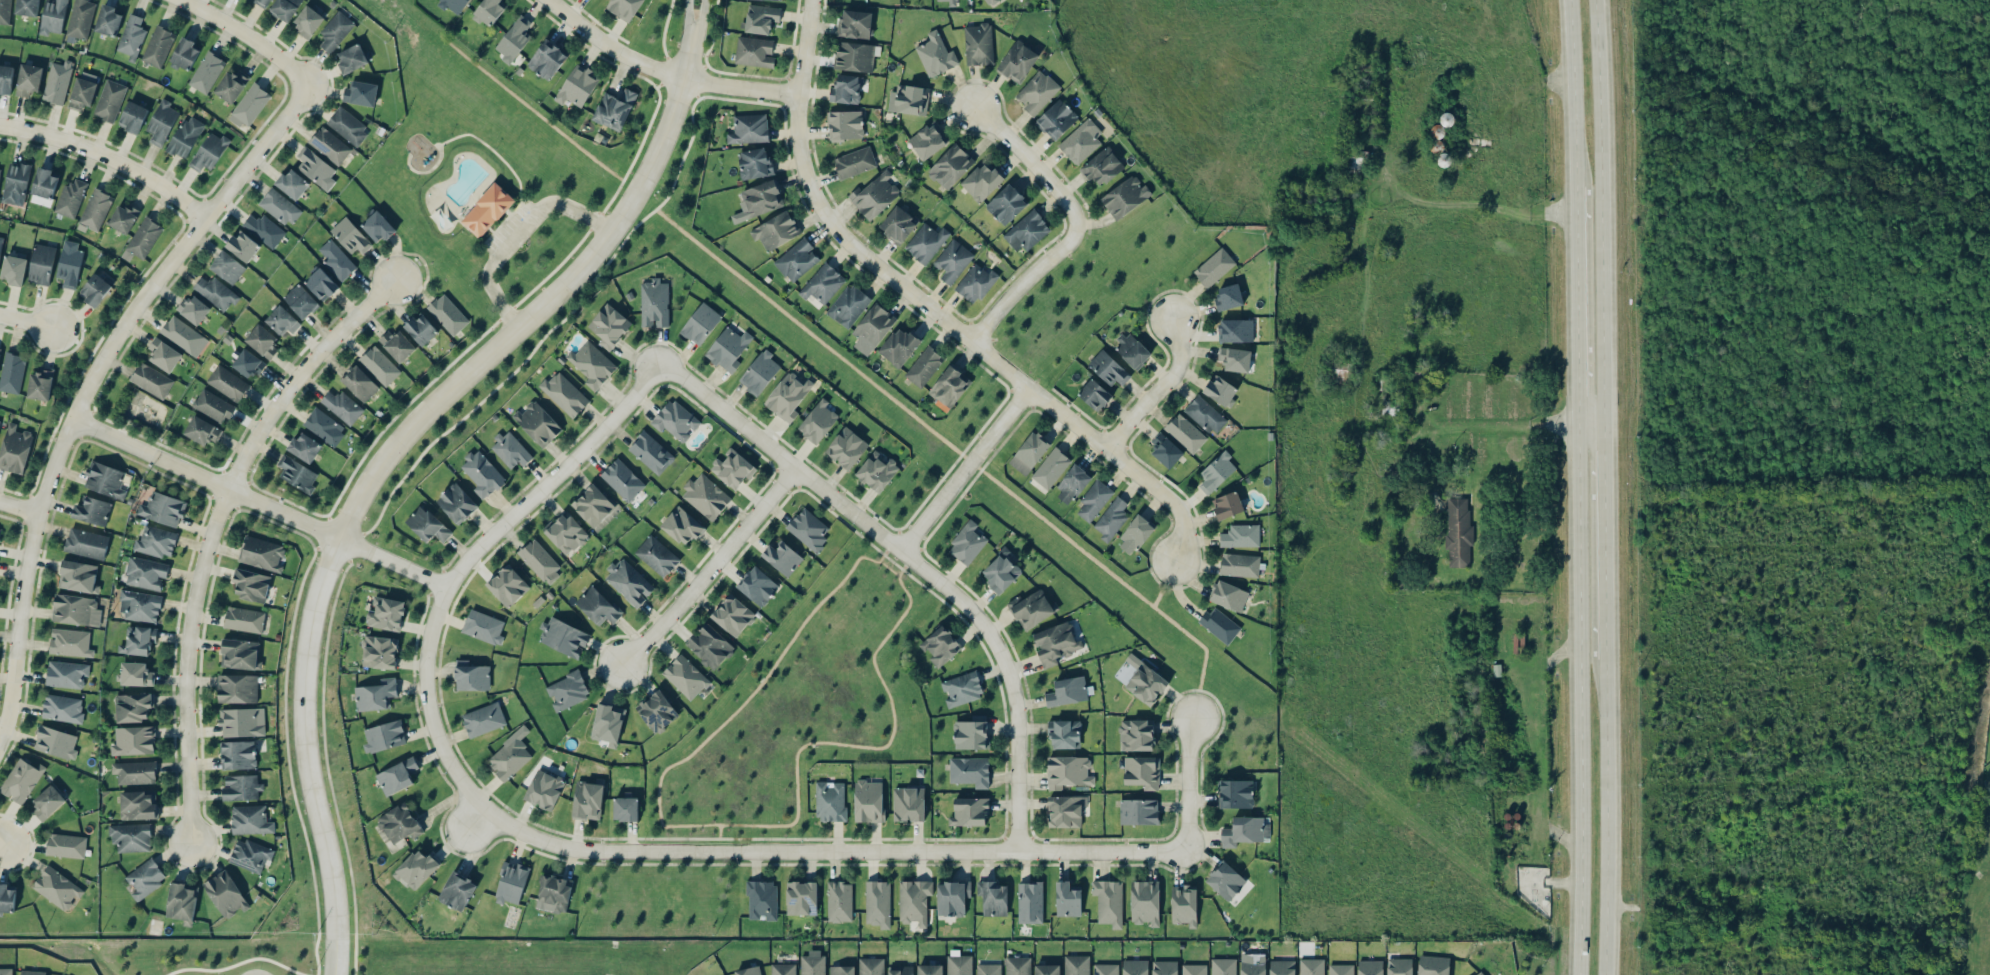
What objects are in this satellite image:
building: (781, 0)
building: (262, 2)
building: (951, 2)
building: (990, 2)
building: (454, 5)
building: (27, 7)
building: (285, 8)
building: (624, 8)
building: (489, 10)
building: (4, 11)
building: (53, 16)
building: (80, 18)
building: (761, 18)
building: (108, 20)
building: (308, 21)
building: (854, 23)
building: (335, 31)
road: (246, 36)
building: (132, 37)
building: (514, 39)
road: (682, 39)
road: (694, 41)
building: (978, 44)
building: (158, 46)
building: (754, 51)
building: (938, 52)
building: (186, 53)
building: (854, 56)
building: (353, 58)
building: (547, 59)
building: (1018, 61)
building: (206, 72)
road: (660, 72)
building: (6, 78)
building: (28, 79)
building: (57, 81)
building: (231, 85)
building: (577, 85)
building: (845, 89)
road: (1572, 90)
building: (1037, 92)
building: (82, 93)
building: (360, 93)
building: (909, 99)
building: (109, 100)
building: (249, 105)
building: (615, 109)
building: (133, 117)
building: (1057, 118)
building: (161, 122)
building: (347, 125)
building: (845, 125)
building: (749, 129)
building: (185, 137)
building: (929, 139)
building: (1081, 141)
building: (329, 145)
building: (209, 152)
road: (107, 159)
building: (1355, 161)
building: (854, 162)
building: (754, 163)
building: (951, 166)
building: (1102, 166)
building: (316, 168)
building: (0, 169)
building: (981, 181)
building: (16, 182)
building: (45, 182)
building: (292, 183)
building: (877, 194)
building: (1125, 196)
building: (70, 198)
building: (759, 200)
road: (1598, 203)
building: (1006, 204)
building: (279, 206)
building: (95, 209)
building: (487, 209)
building: (123, 218)
building: (897, 224)
building: (377, 226)
road: (1069, 226)
building: (264, 229)
building: (775, 230)
building: (1026, 231)
road: (518, 234)
building: (350, 236)
building: (142, 239)
building: (926, 242)
building: (1, 244)
building: (243, 246)
building: (336, 260)
building: (797, 260)
building: (953, 260)
building: (41, 264)
building: (69, 266)
building: (227, 267)
building: (1214, 267)
building: (14, 269)
building: (321, 283)
building: (822, 283)
building: (975, 283)
building: (95, 289)
building: (216, 292)
road: (1575, 295)
building: (1229, 297)
building: (301, 300)
building: (654, 303)
building: (848, 305)
building: (193, 309)
road: (930, 311)
building: (448, 314)
road: (25, 320)
building: (281, 321)
building: (700, 323)
building: (609, 326)
building: (873, 326)
building: (421, 329)
road: (551, 329)
building: (1235, 330)
building: (181, 334)
building: (262, 341)
building: (397, 345)
building: (899, 346)
building: (728, 348)
building: (1132, 350)
building: (163, 354)
building: (1234, 359)
building: (247, 363)
building: (592, 364)
building: (379, 365)
building: (924, 366)
building: (1108, 368)
building: (12, 372)
building: (759, 373)
road: (89, 377)
building: (151, 380)
building: (227, 383)
building: (359, 383)
building: (40, 384)
building: (950, 386)
road: (1155, 388)
building: (1220, 390)
building: (564, 394)
building: (1094, 395)
building: (789, 396)
building: (212, 405)
building: (342, 406)
building: (1390, 408)
road: (1587, 408)
building: (1205, 414)
building: (676, 420)
building: (818, 421)
building: (537, 423)
road: (1469, 424)
building: (324, 426)
building: (201, 430)
building: (1185, 432)
building: (304, 447)
building: (846, 447)
building: (15, 449)
building: (510, 450)
road: (958, 450)
building: (1165, 450)
building: (651, 452)
building: (1029, 452)
building: (732, 468)
building: (1051, 468)
road: (962, 469)
building: (877, 470)
building: (1216, 472)
building: (297, 474)
building: (482, 474)
road: (367, 477)
building: (105, 479)
building: (622, 480)
building: (1072, 484)
building: (706, 496)
building: (1094, 500)
road: (256, 503)
building: (456, 503)
building: (1227, 505)
road: (18, 507)
building: (594, 507)
building: (163, 508)
building: (92, 511)
building: (1111, 519)
building: (427, 524)
building: (683, 525)
road: (212, 530)
building: (810, 530)
building: (1458, 532)
building: (566, 533)
building: (1135, 535)
road: (1600, 535)
building: (1241, 536)
building: (156, 541)
building: (86, 543)
building: (967, 543)
road: (885, 552)
building: (261, 553)
building: (657, 555)
building: (782, 557)
building: (540, 560)
road: (706, 565)
building: (1239, 565)
road: (904, 567)
road: (889, 568)
building: (1001, 570)
building: (146, 573)
building: (78, 576)
building: (628, 582)
building: (251, 584)
building: (507, 585)
building: (758, 586)
building: (1228, 595)
building: (139, 606)
building: (597, 606)
building: (1031, 609)
building: (75, 610)
building: (387, 614)
building: (733, 615)
building: (244, 619)
building: (1220, 625)
building: (484, 627)
building: (563, 637)
building: (139, 641)
building: (70, 642)
building: (1055, 643)
building: (940, 645)
building: (709, 646)
building: (380, 652)
building: (240, 654)
road: (424, 672)
building: (66, 674)
building: (136, 674)
building: (472, 676)
building: (685, 676)
road: (1007, 679)
building: (1144, 680)
building: (237, 688)
building: (962, 688)
building: (567, 690)
building: (1067, 691)
road: (1578, 692)
building: (376, 694)
building: (62, 708)
building: (134, 708)
building: (657, 711)
building: (483, 719)
building: (242, 722)
building: (608, 723)
building: (970, 734)
building: (1064, 734)
building: (1136, 735)
building: (383, 736)
building: (133, 740)
building: (55, 742)
building: (238, 754)
building: (510, 755)
building: (969, 771)
building: (1068, 771)
building: (1142, 771)
building: (134, 772)
building: (396, 776)
building: (21, 780)
building: (241, 788)
building: (544, 789)
building: (1235, 793)
building: (588, 799)
building: (47, 801)
building: (830, 801)
building: (868, 801)
building: (138, 804)
building: (908, 804)
building: (625, 808)
building: (1066, 810)
building: (969, 811)
building: (1138, 811)
building: (250, 819)
road: (1603, 819)
building: (399, 824)
building: (1246, 830)
building: (131, 836)
road: (720, 836)
road: (1, 841)
building: (66, 845)
road: (1167, 849)
building: (250, 855)
building: (416, 869)
building: (146, 879)
building: (1225, 880)
building: (511, 883)
building: (57, 887)
building: (457, 890)
building: (555, 892)
building: (226, 894)
building: (801, 897)
building: (7, 898)
building: (952, 898)
building: (993, 898)
building: (761, 899)
building: (1068, 899)
building: (839, 901)
building: (914, 901)
building: (181, 902)
building: (1030, 902)
building: (1109, 902)
building: (1145, 902)
building: (877, 903)
building: (1184, 904)
building: (812, 963)
building: (960, 965)
building: (1018, 965)
building: (1077, 965)
building: (1433, 965)
building: (871, 966)
building: (1223, 966)
building: (1311, 966)
building: (1399, 966)
building: (1135, 967)
building: (1164, 967)
building: (1252, 967)
building: (1282, 967)
building: (1370, 967)
building: (783, 969)
building: (929, 969)
building: (988, 969)
building: (1047, 969)
building: (1105, 969)
building: (1194, 969)
building: (1340, 969)
building: (753, 970)
building: (841, 970)
building: (900, 970)
building: (6, 971)
building: (32, 972)
building: (1480, 973)

